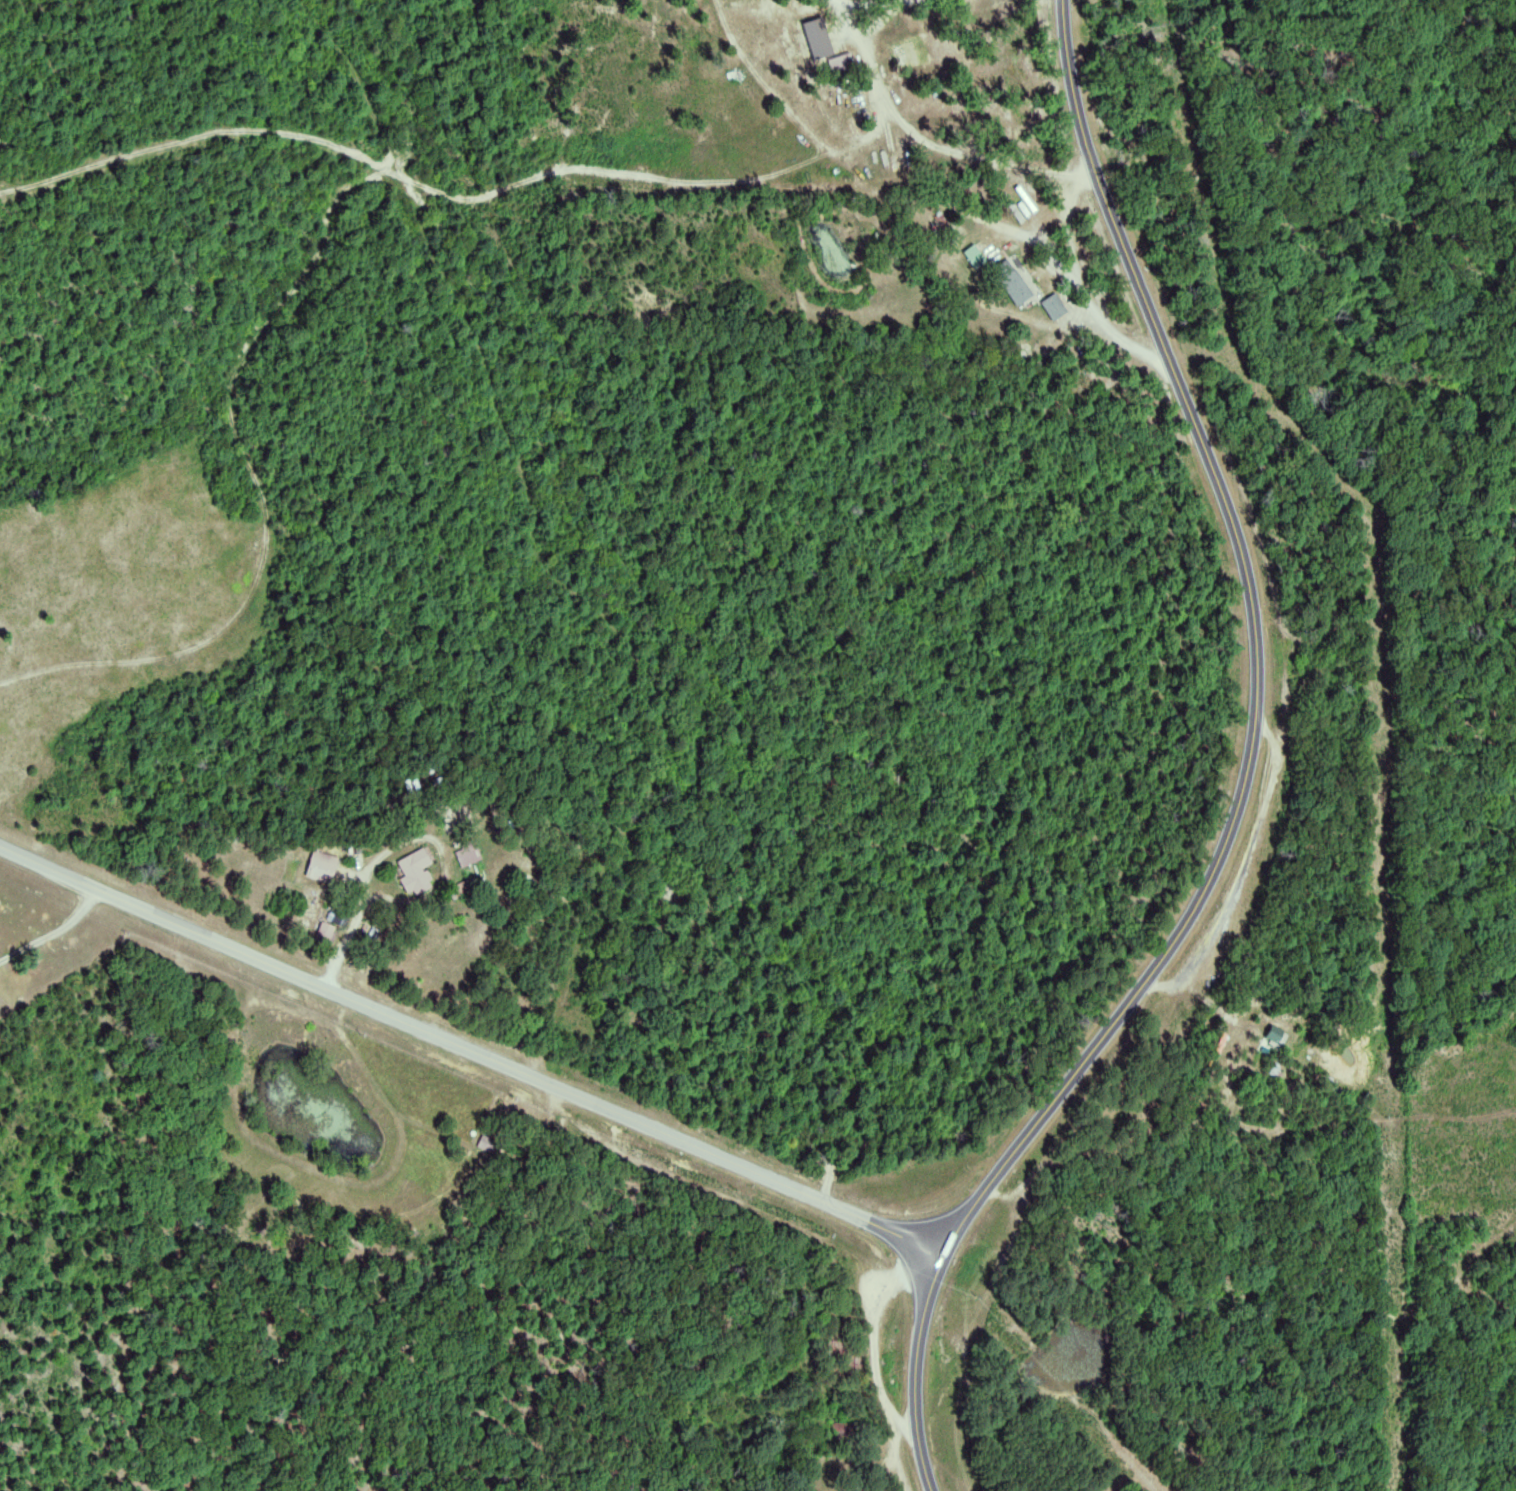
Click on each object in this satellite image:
building: (820, 38)
building: (977, 255)
building: (1014, 280)
building: (1056, 305)
road: (1247, 777)
building: (471, 853)
building: (416, 863)
building: (325, 865)
road: (472, 1050)

